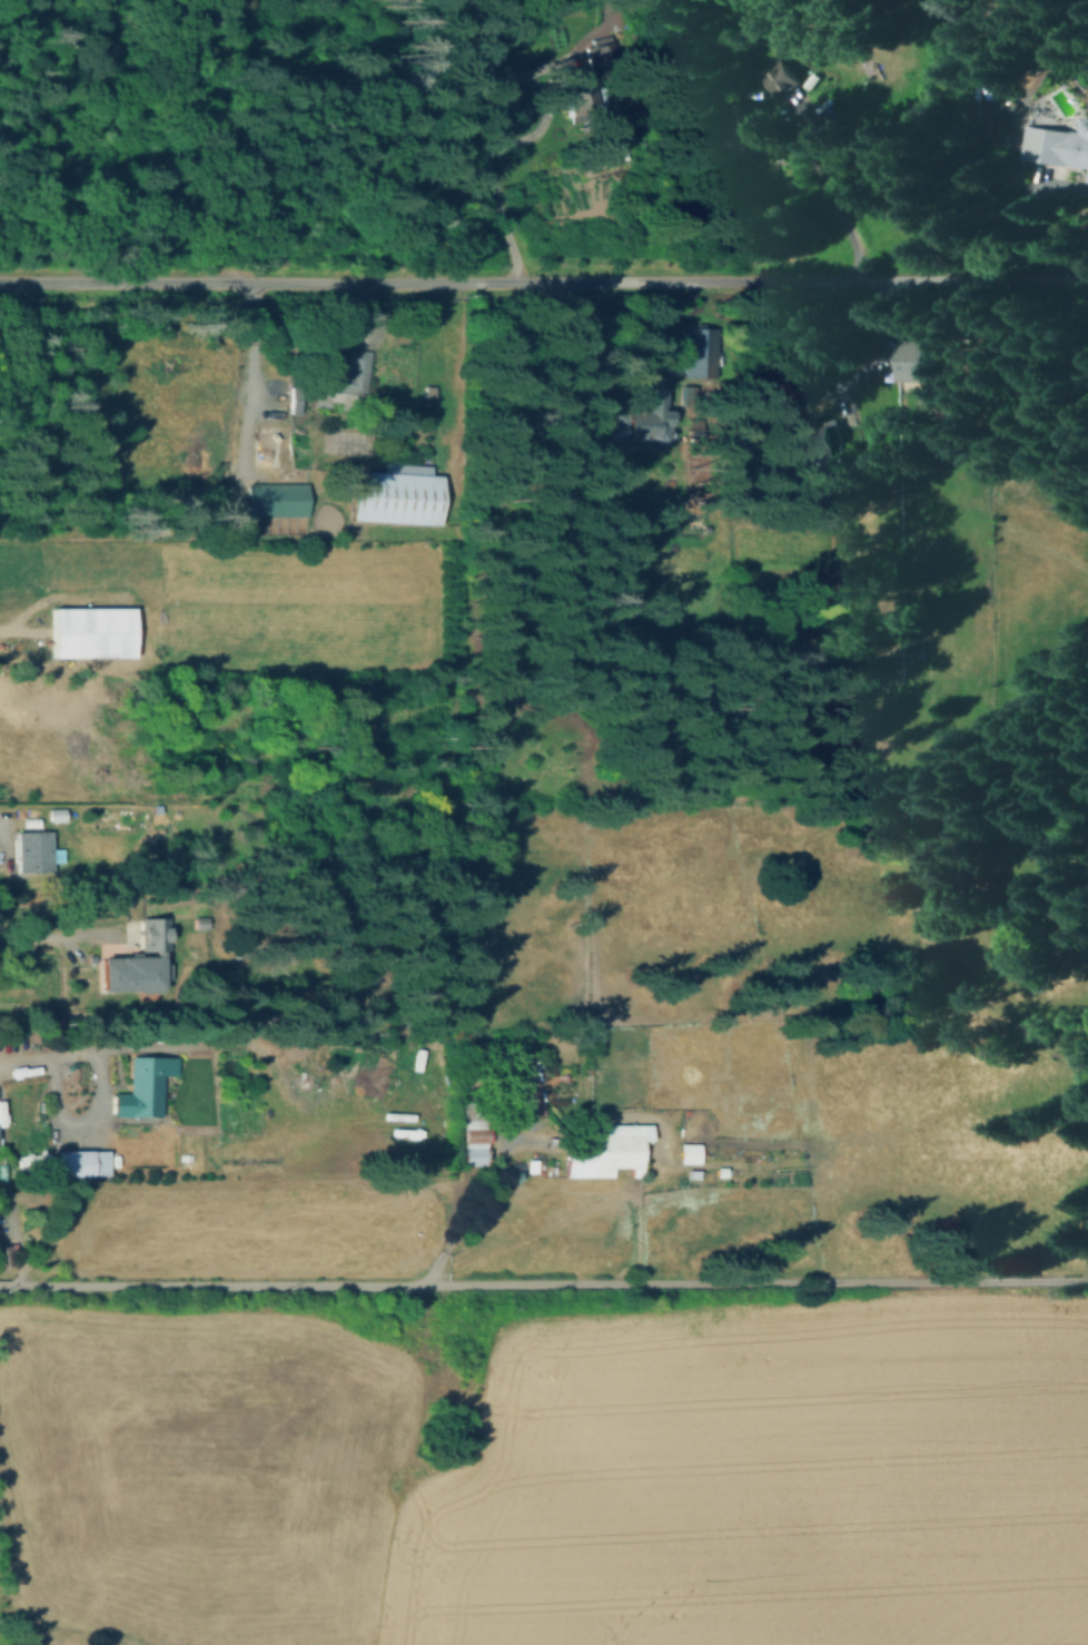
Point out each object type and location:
building: (787, 77)
building: (574, 95)
building: (1013, 102)
building: (762, 129)
building: (1058, 145)
road: (491, 171)
building: (1087, 177)
road: (841, 206)
road: (544, 279)
building: (695, 351)
building: (921, 359)
building: (344, 373)
road: (248, 374)
building: (296, 397)
building: (641, 415)
building: (824, 436)
building: (395, 498)
building: (277, 499)
building: (96, 631)
road: (12, 632)
building: (58, 814)
building: (34, 851)
building: (155, 934)
road: (65, 935)
building: (131, 973)
building: (592, 1023)
road: (103, 1055)
building: (524, 1087)
building: (145, 1092)
road: (81, 1120)
building: (471, 1139)
building: (609, 1154)
building: (691, 1155)
building: (82, 1159)
road: (241, 1180)
road: (463, 1214)
building: (7, 1254)
road: (544, 1288)
crop: (200, 1474)
crop: (763, 1478)

